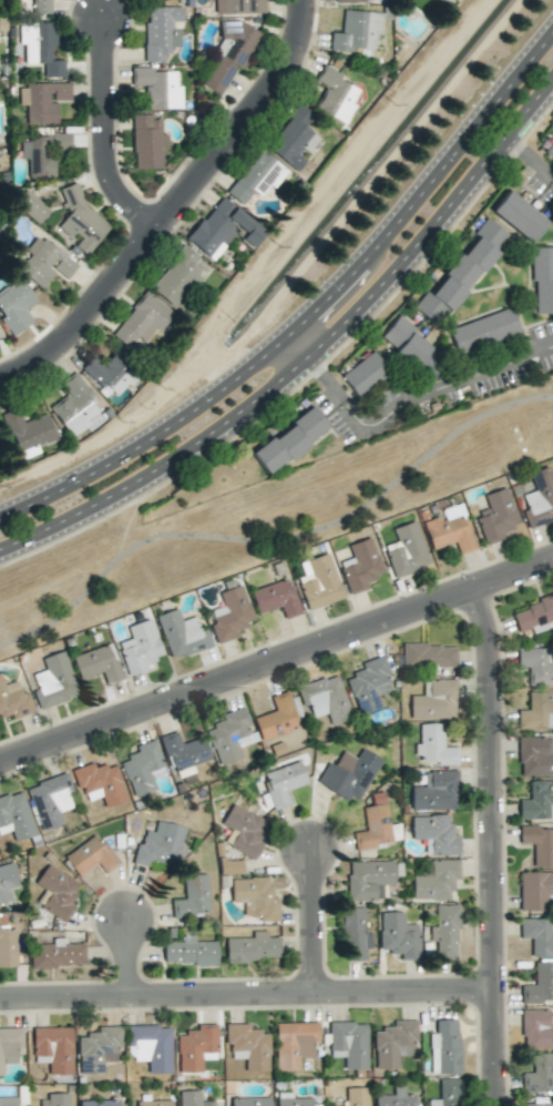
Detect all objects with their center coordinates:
building: (153, 0)
building: (347, 1)
building: (442, 1)
building: (42, 4)
building: (237, 7)
building: (161, 31)
building: (356, 31)
building: (40, 48)
building: (227, 57)
building: (157, 88)
building: (336, 95)
building: (42, 102)
road: (94, 135)
building: (294, 139)
building: (147, 142)
building: (550, 149)
building: (41, 153)
road: (530, 158)
building: (255, 177)
road: (424, 183)
road: (166, 204)
building: (30, 206)
building: (519, 216)
building: (80, 221)
building: (223, 229)
road: (438, 230)
building: (44, 262)
building: (462, 272)
building: (176, 277)
building: (542, 281)
building: (14, 306)
building: (141, 322)
building: (483, 331)
road: (296, 346)
building: (411, 348)
building: (109, 374)
building: (363, 374)
road: (411, 397)
building: (74, 407)
building: (28, 433)
road: (150, 436)
building: (288, 440)
road: (160, 467)
building: (539, 497)
building: (495, 516)
road: (276, 520)
building: (450, 529)
building: (406, 550)
building: (360, 566)
building: (318, 581)
building: (276, 598)
building: (229, 615)
building: (533, 615)
building: (182, 635)
building: (140, 647)
building: (428, 655)
road: (275, 657)
building: (98, 663)
building: (535, 666)
building: (53, 681)
building: (368, 684)
building: (325, 699)
building: (13, 700)
building: (434, 700)
building: (536, 711)
building: (276, 718)
building: (229, 735)
building: (433, 747)
building: (184, 751)
building: (535, 757)
building: (141, 768)
building: (349, 774)
building: (100, 783)
building: (283, 783)
building: (434, 792)
building: (50, 801)
building: (537, 801)
building: (14, 816)
building: (373, 824)
building: (244, 830)
building: (434, 834)
road: (490, 843)
building: (539, 844)
building: (160, 845)
building: (90, 856)
building: (229, 866)
building: (368, 880)
building: (436, 881)
building: (7, 882)
building: (534, 890)
building: (57, 892)
building: (192, 897)
building: (254, 897)
road: (308, 923)
building: (444, 932)
building: (354, 934)
building: (398, 935)
building: (537, 936)
building: (8, 946)
building: (252, 947)
building: (188, 952)
building: (57, 954)
road: (135, 960)
building: (539, 984)
road: (246, 996)
building: (536, 1029)
building: (293, 1044)
building: (348, 1044)
building: (395, 1044)
building: (248, 1046)
building: (9, 1047)
building: (150, 1047)
building: (196, 1047)
building: (444, 1047)
building: (52, 1049)
building: (98, 1049)
building: (539, 1074)
building: (447, 1093)
building: (356, 1096)
building: (192, 1098)
building: (396, 1098)
building: (53, 1100)
building: (291, 1100)
building: (8, 1102)
building: (249, 1102)
building: (100, 1103)
building: (151, 1103)
building: (535, 1104)

